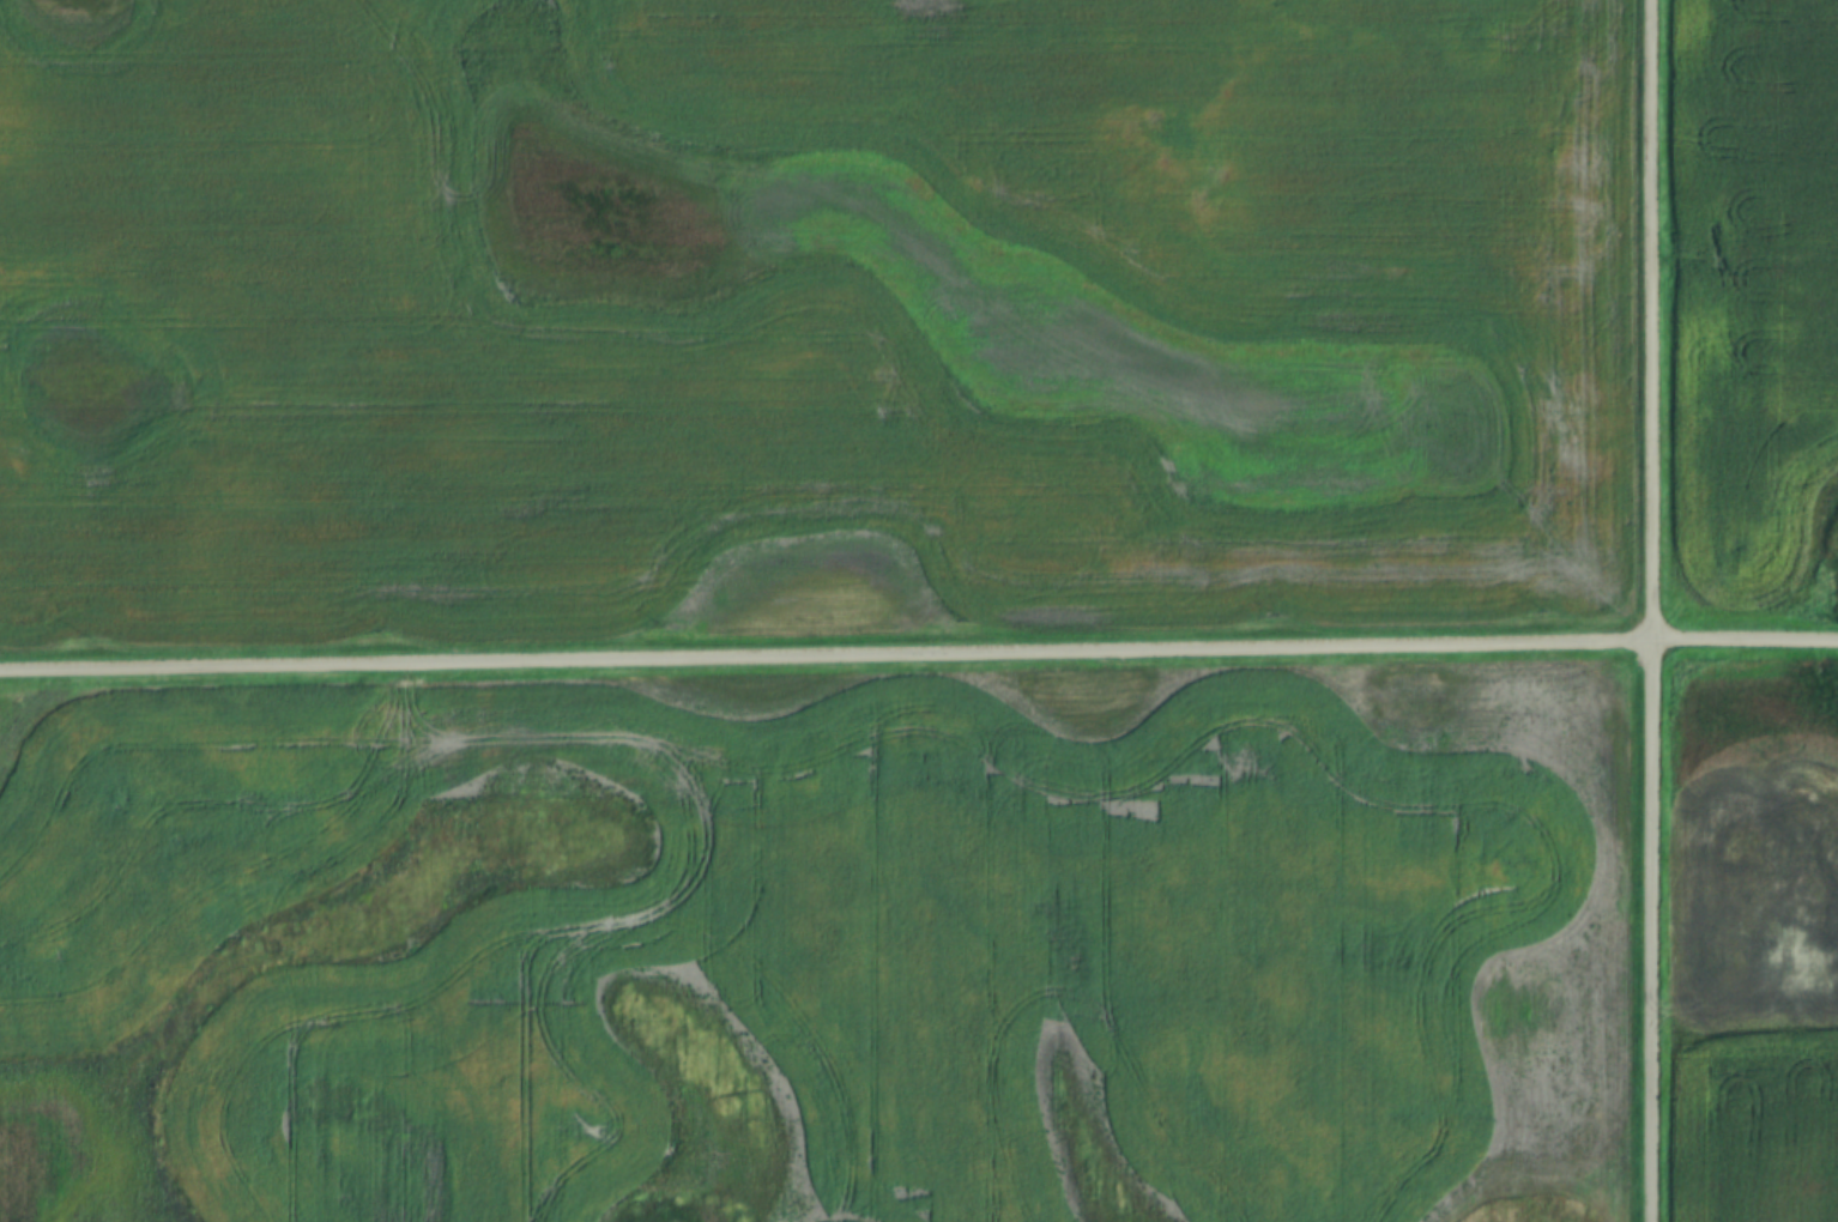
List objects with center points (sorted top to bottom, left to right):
road: (1746, 268)
road: (1655, 610)
road: (918, 655)

